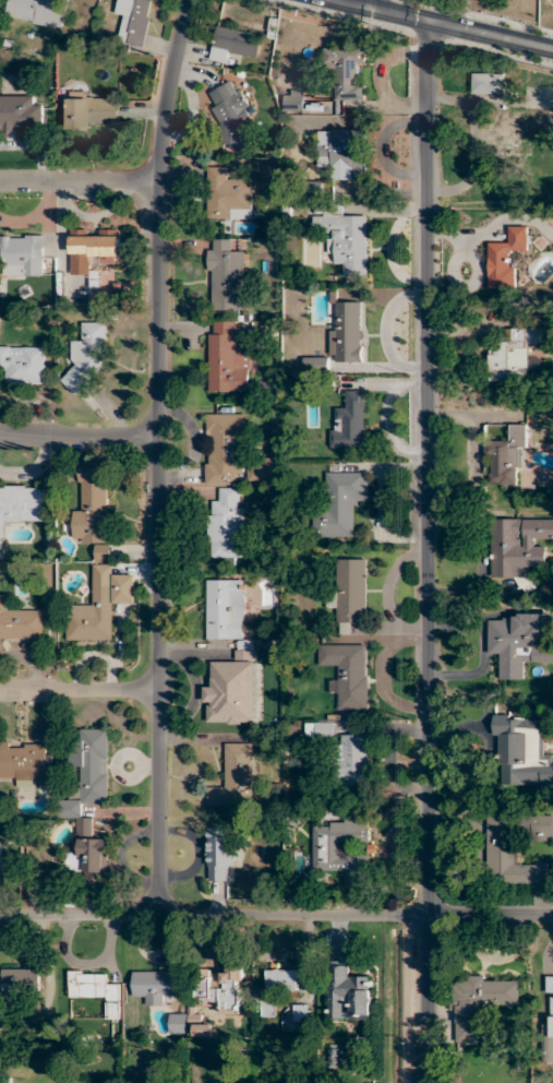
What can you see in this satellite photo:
road: (348, 4)
road: (370, 4)
traffic signals: (370, 10)
building: (37, 12)
building: (133, 21)
traffic signals: (428, 23)
road: (461, 31)
building: (233, 44)
building: (345, 71)
building: (486, 84)
building: (92, 111)
building: (230, 114)
building: (20, 115)
building: (516, 132)
building: (341, 153)
road: (79, 182)
building: (227, 198)
building: (344, 238)
building: (92, 249)
building: (20, 250)
building: (505, 259)
building: (226, 276)
building: (346, 332)
building: (513, 355)
building: (88, 356)
building: (228, 357)
building: (22, 365)
building: (349, 421)
building: (542, 423)
road: (79, 438)
building: (225, 449)
road: (157, 450)
building: (505, 459)
building: (339, 504)
building: (20, 505)
building: (93, 509)
building: (227, 526)
building: (508, 548)
road: (425, 552)
building: (350, 591)
building: (99, 606)
building: (21, 621)
building: (519, 642)
building: (245, 652)
building: (348, 675)
road: (80, 688)
building: (322, 731)
building: (524, 753)
building: (351, 760)
building: (23, 761)
building: (88, 770)
building: (235, 785)
building: (516, 848)
building: (341, 852)
building: (220, 855)
building: (1, 856)
building: (91, 866)
road: (276, 904)
building: (21, 979)
building: (153, 986)
building: (224, 988)
building: (277, 988)
building: (95, 990)
building: (348, 995)
building: (479, 1002)
building: (551, 1017)
building: (178, 1024)
building: (203, 1031)

